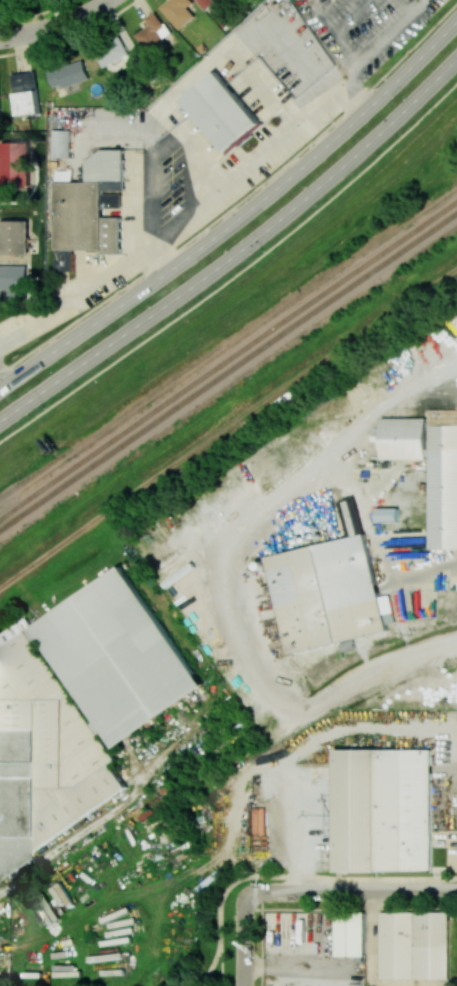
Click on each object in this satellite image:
building: (0, 1)
building: (207, 3)
building: (177, 11)
road: (57, 26)
building: (152, 33)
road: (374, 48)
building: (120, 54)
building: (68, 74)
building: (25, 93)
building: (221, 111)
building: (60, 143)
building: (14, 164)
road: (239, 200)
building: (89, 208)
road: (240, 217)
building: (14, 237)
road: (238, 252)
road: (237, 273)
building: (13, 281)
railway: (228, 358)
railway: (228, 372)
building: (406, 438)
building: (443, 479)
building: (387, 514)
road: (215, 572)
building: (328, 593)
building: (122, 658)
road: (368, 729)
building: (385, 810)
road: (292, 827)
road: (309, 875)
road: (350, 890)
building: (349, 931)
road: (244, 938)
road: (371, 938)
building: (397, 944)
road: (221, 966)
road: (292, 966)
road: (209, 969)

